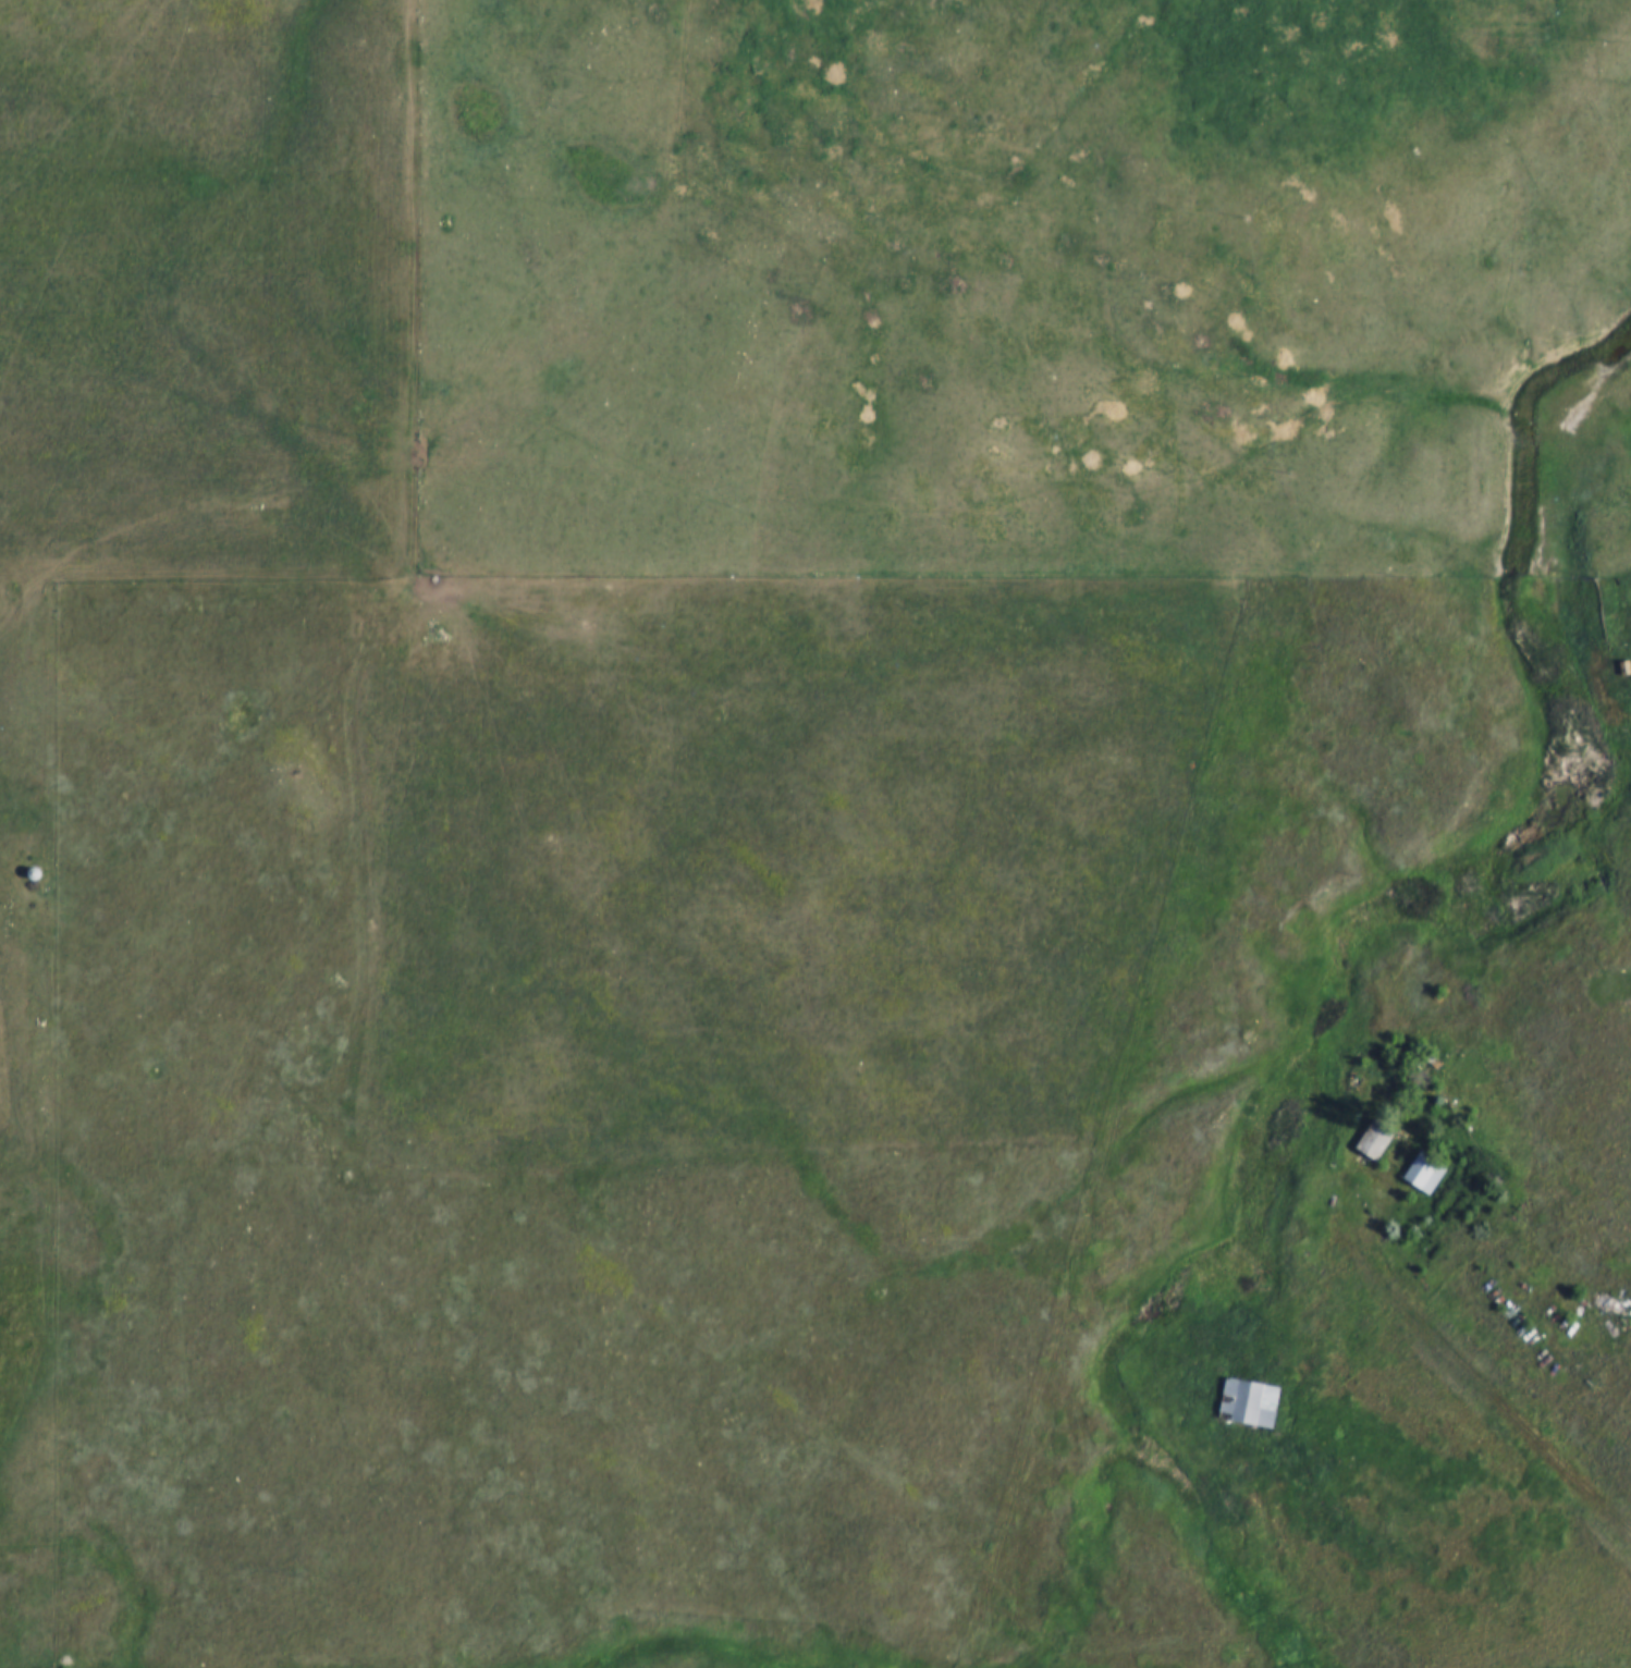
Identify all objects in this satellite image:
building: (1373, 1138)
building: (1423, 1172)
road: (1483, 1388)
building: (1247, 1402)

